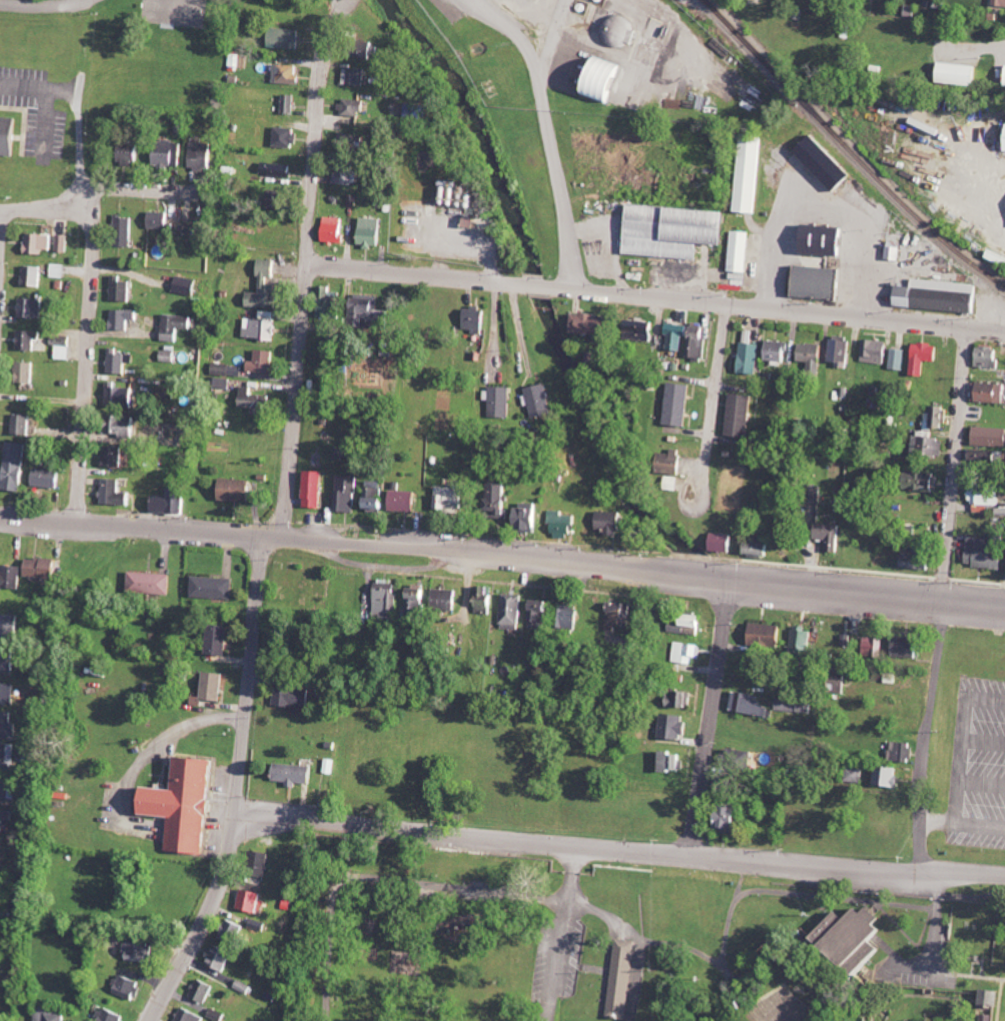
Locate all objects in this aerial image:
road: (34, 1)
building: (998, 3)
building: (619, 32)
building: (286, 38)
building: (287, 74)
building: (951, 74)
building: (356, 76)
building: (607, 80)
building: (290, 103)
road: (79, 105)
building: (354, 106)
road: (548, 127)
road: (312, 128)
building: (9, 135)
building: (287, 137)
building: (1001, 138)
building: (346, 142)
railway: (848, 149)
building: (129, 154)
building: (169, 155)
building: (202, 155)
building: (827, 163)
building: (278, 169)
building: (346, 173)
building: (752, 174)
road: (89, 192)
building: (453, 192)
building: (280, 198)
building: (160, 220)
road: (2, 228)
building: (335, 229)
building: (677, 230)
building: (125, 231)
building: (372, 232)
building: (825, 240)
building: (40, 242)
building: (64, 243)
building: (741, 251)
building: (998, 262)
building: (59, 270)
building: (35, 276)
building: (821, 282)
building: (188, 285)
building: (265, 286)
building: (122, 289)
road: (654, 294)
building: (931, 295)
building: (331, 303)
building: (34, 307)
building: (370, 311)
building: (125, 318)
building: (477, 320)
building: (592, 323)
building: (176, 326)
building: (262, 326)
building: (644, 331)
building: (689, 339)
building: (30, 340)
building: (64, 347)
building: (777, 351)
building: (840, 351)
building: (873, 351)
building: (985, 354)
building: (813, 355)
road: (87, 356)
building: (168, 356)
building: (919, 357)
building: (751, 358)
building: (895, 359)
building: (118, 361)
building: (263, 362)
building: (227, 370)
road: (716, 391)
building: (984, 392)
building: (121, 395)
road: (294, 399)
building: (253, 400)
building: (541, 400)
building: (502, 401)
building: (680, 404)
building: (741, 415)
building: (933, 417)
building: (25, 424)
building: (124, 426)
building: (985, 436)
building: (925, 445)
building: (115, 456)
building: (675, 462)
building: (15, 466)
building: (49, 476)
building: (916, 481)
building: (315, 489)
building: (238, 490)
building: (116, 493)
building: (348, 493)
building: (377, 496)
building: (452, 498)
building: (981, 499)
building: (502, 500)
building: (406, 501)
building: (171, 502)
building: (530, 517)
building: (612, 522)
building: (564, 523)
building: (834, 537)
building: (725, 542)
building: (762, 549)
road: (503, 552)
building: (978, 553)
building: (906, 556)
building: (44, 567)
building: (16, 576)
building: (150, 583)
building: (213, 587)
building: (387, 597)
building: (449, 598)
road: (945, 599)
building: (487, 600)
building: (420, 602)
building: (514, 611)
building: (540, 613)
building: (572, 616)
building: (620, 616)
building: (692, 622)
building: (11, 627)
building: (767, 635)
building: (220, 640)
building: (802, 640)
building: (848, 640)
building: (876, 645)
building: (909, 646)
building: (688, 652)
building: (8, 658)
road: (252, 671)
building: (215, 686)
building: (8, 693)
building: (295, 697)
building: (681, 698)
road: (992, 699)
building: (749, 703)
building: (794, 705)
road: (712, 713)
building: (7, 726)
building: (676, 726)
road: (985, 742)
building: (902, 751)
road: (964, 752)
building: (7, 756)
building: (673, 761)
building: (731, 762)
building: (296, 774)
building: (856, 775)
building: (890, 777)
road: (983, 782)
building: (721, 785)
building: (8, 787)
building: (184, 804)
road: (941, 817)
building: (5, 819)
building: (731, 820)
road: (978, 826)
road: (620, 847)
building: (1, 850)
building: (264, 863)
building: (0, 877)
building: (252, 901)
road: (205, 918)
building: (235, 932)
park: (626, 933)
building: (855, 935)
building: (141, 952)
building: (222, 958)
building: (623, 979)
building: (129, 987)
building: (204, 990)
building: (995, 997)
building: (51, 1014)
building: (113, 1015)
building: (191, 1015)
building: (220, 1015)
building: (745, 1020)

